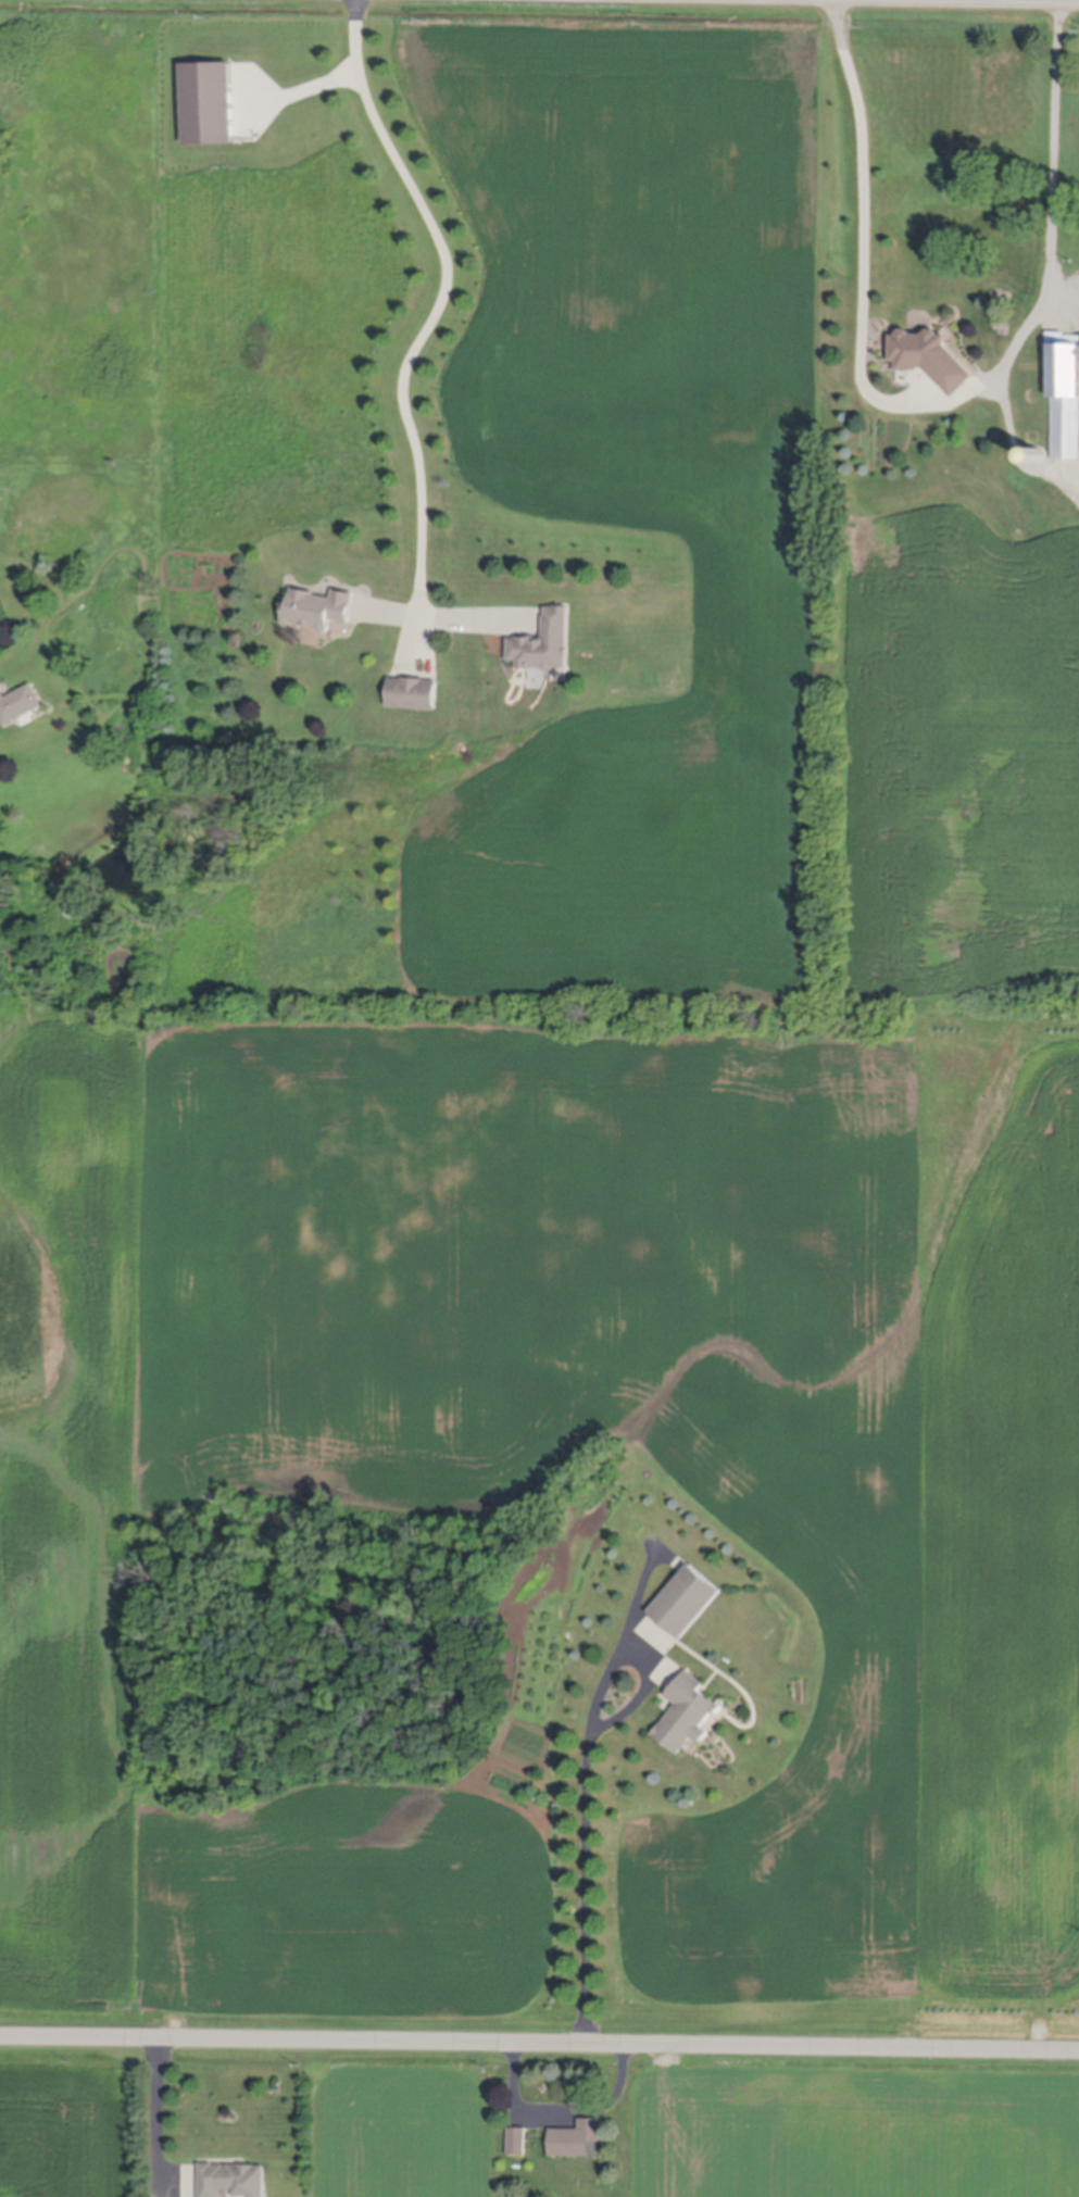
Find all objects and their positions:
building: (208, 99)
road: (413, 352)
building: (928, 355)
building: (1064, 392)
road: (927, 404)
building: (1034, 453)
building: (317, 605)
building: (545, 643)
building: (412, 691)
building: (18, 702)
building: (68, 911)
building: (687, 1602)
building: (687, 1713)
road: (589, 1794)
road: (539, 2045)
road: (155, 2108)
building: (578, 2140)
building: (517, 2142)
building: (231, 2180)

